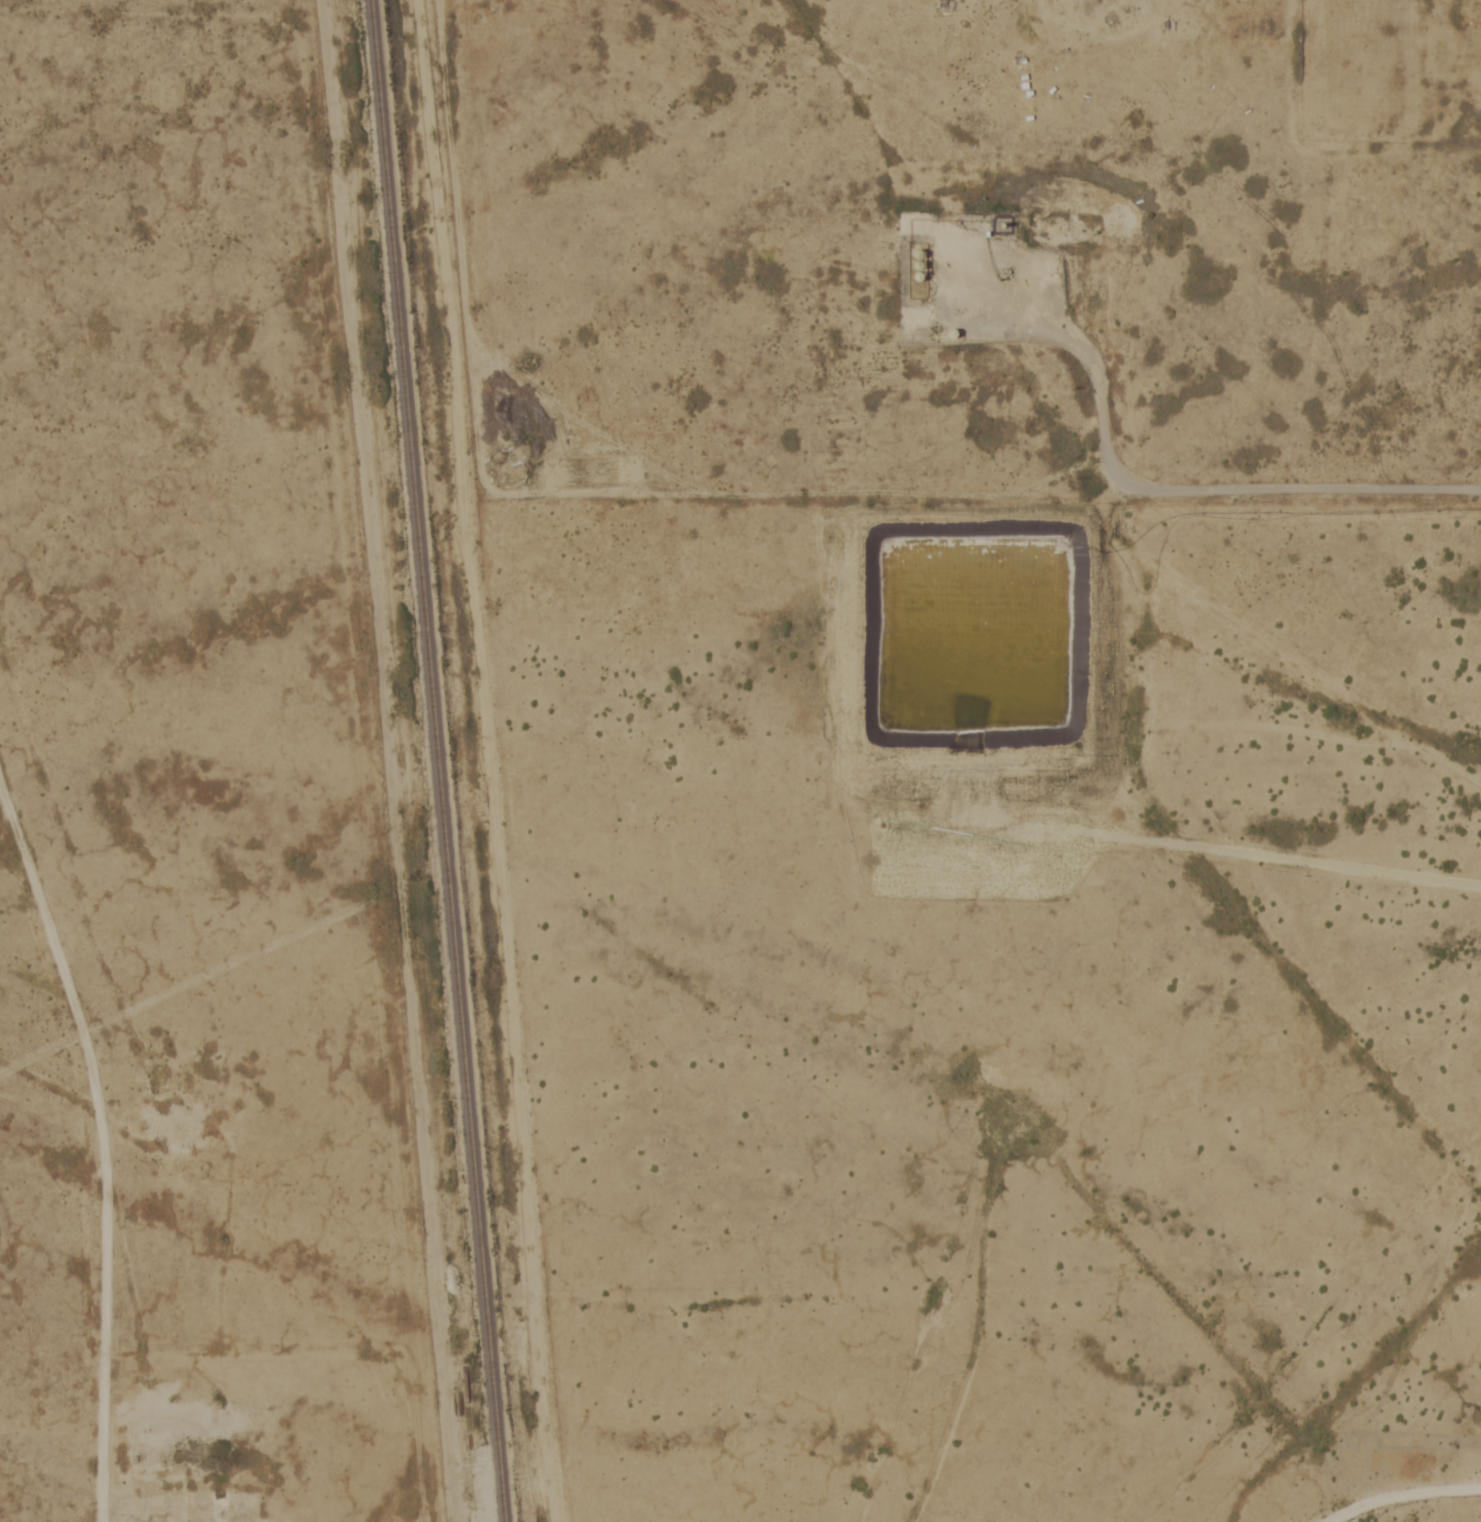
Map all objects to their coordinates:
railway: (434, 760)
road: (108, 1147)
road: (981, 1279)
road: (1400, 1493)

